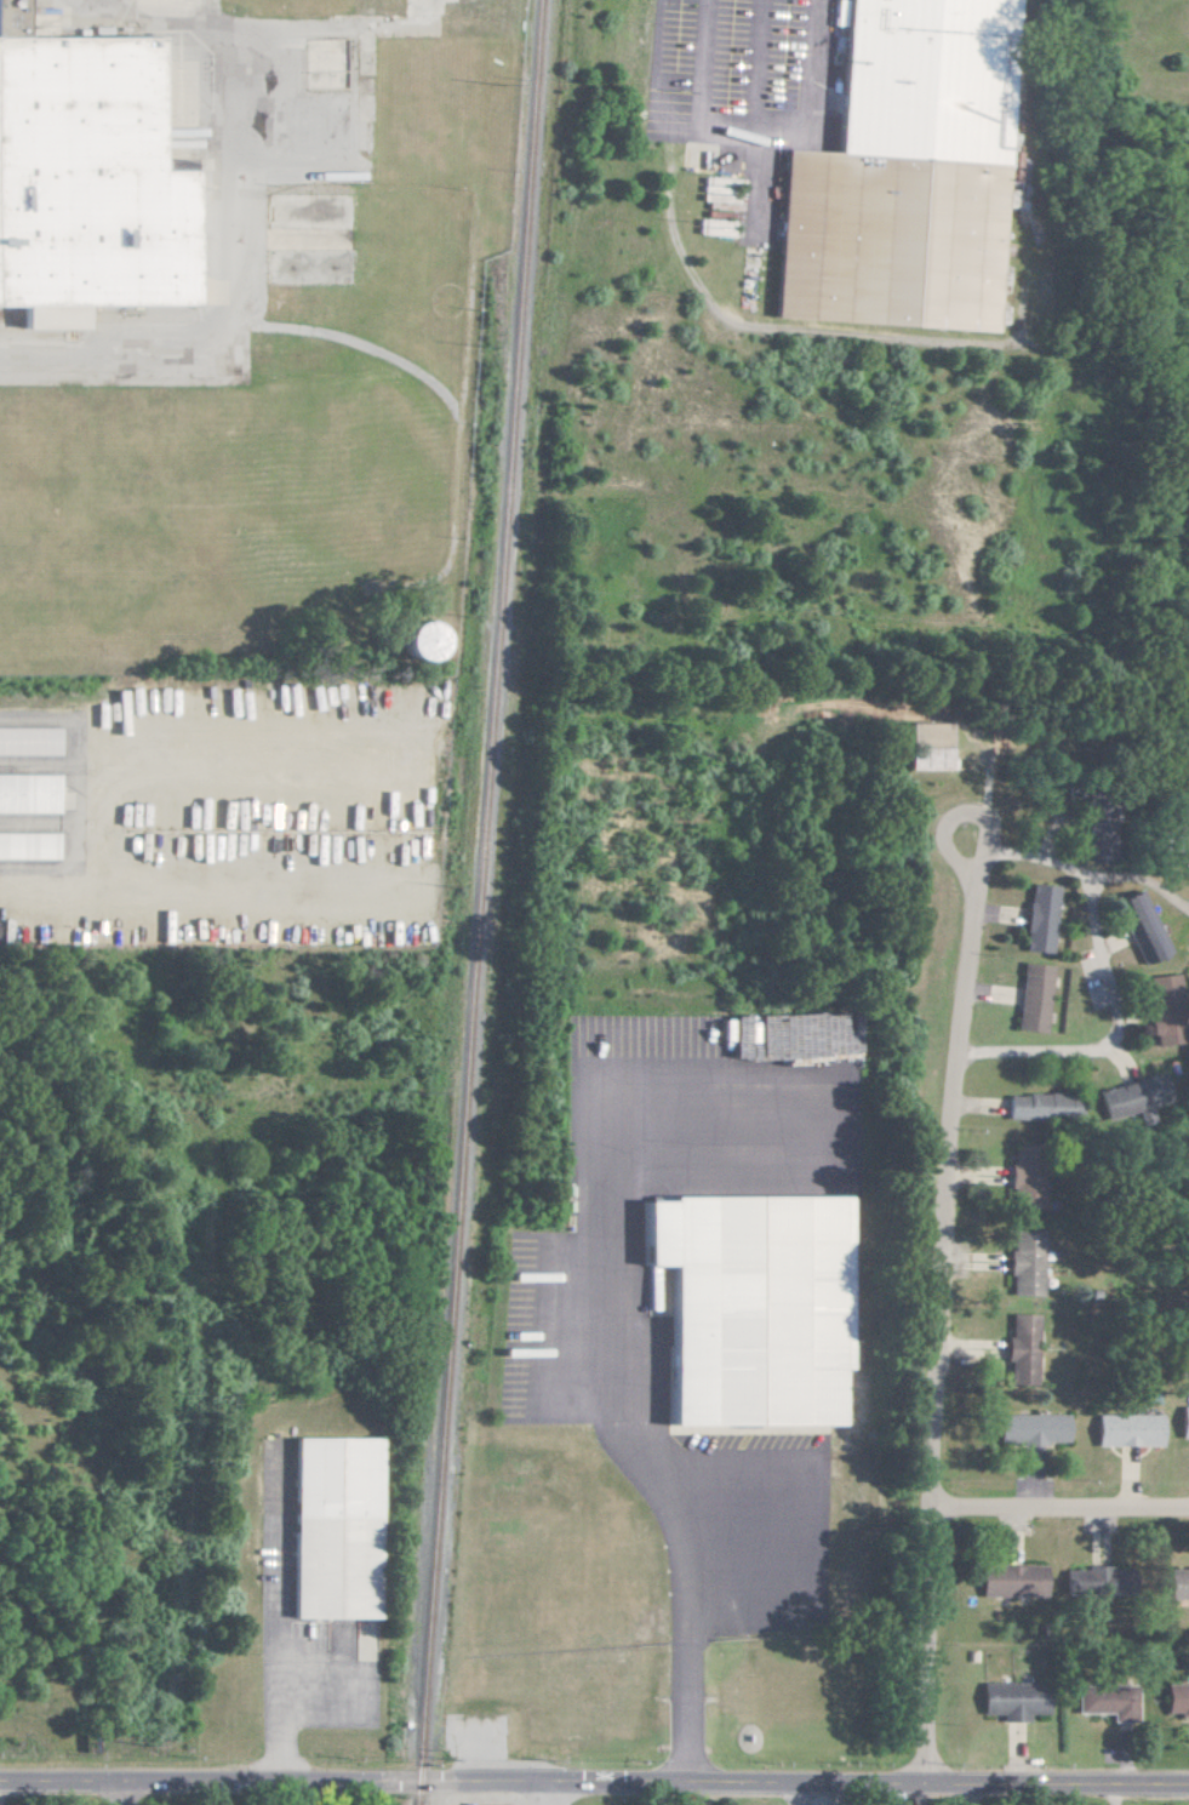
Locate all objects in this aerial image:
building: (11, 35)
road: (756, 136)
building: (898, 178)
road: (228, 228)
building: (415, 639)
building: (27, 741)
building: (925, 746)
building: (25, 792)
road: (942, 816)
building: (1178, 838)
building: (27, 845)
road: (1138, 869)
railway: (476, 902)
building: (1036, 918)
building: (1139, 926)
road: (1113, 978)
building: (1161, 990)
building: (1030, 998)
building: (1162, 1030)
building: (1124, 1097)
building: (1037, 1106)
building: (1022, 1186)
building: (1022, 1263)
building: (654, 1291)
building: (743, 1310)
road: (938, 1314)
building: (1018, 1349)
building: (1183, 1422)
building: (1030, 1429)
building: (1126, 1429)
road: (635, 1456)
road: (1057, 1506)
building: (331, 1525)
building: (1011, 1581)
building: (1084, 1581)
building: (1177, 1583)
road: (278, 1618)
building: (1176, 1698)
building: (1012, 1700)
building: (1105, 1701)
road: (594, 1782)
road: (119, 1793)
road: (296, 1793)
road: (547, 1793)
road: (794, 1795)

